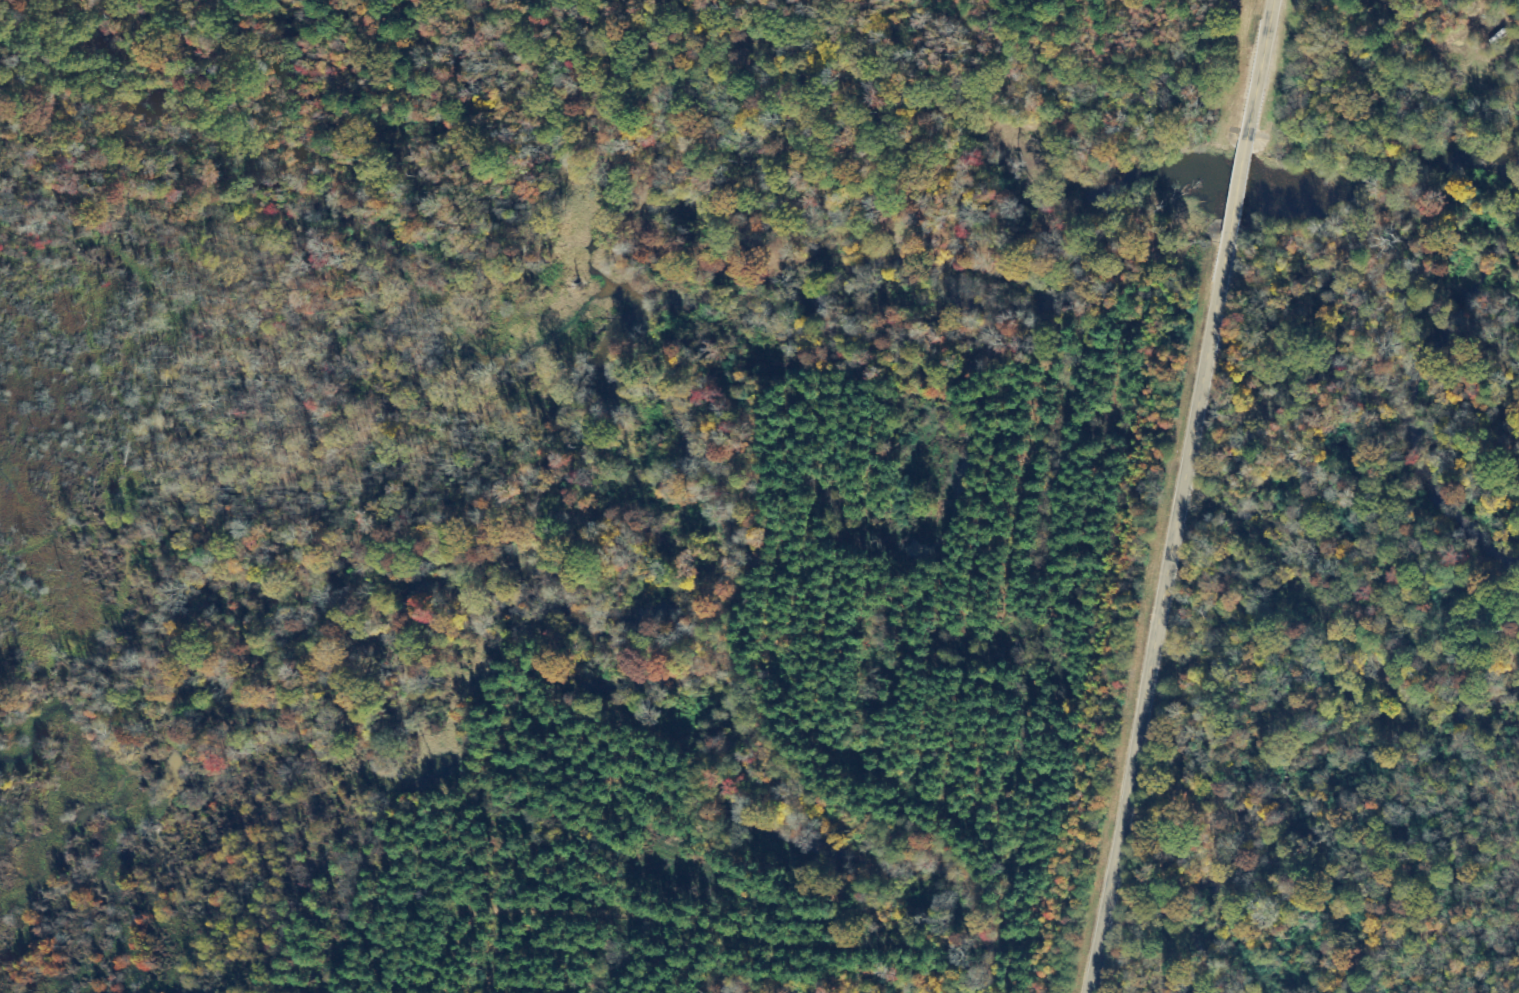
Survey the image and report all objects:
road: (1274, 72)
road: (1251, 188)
road: (1162, 612)

